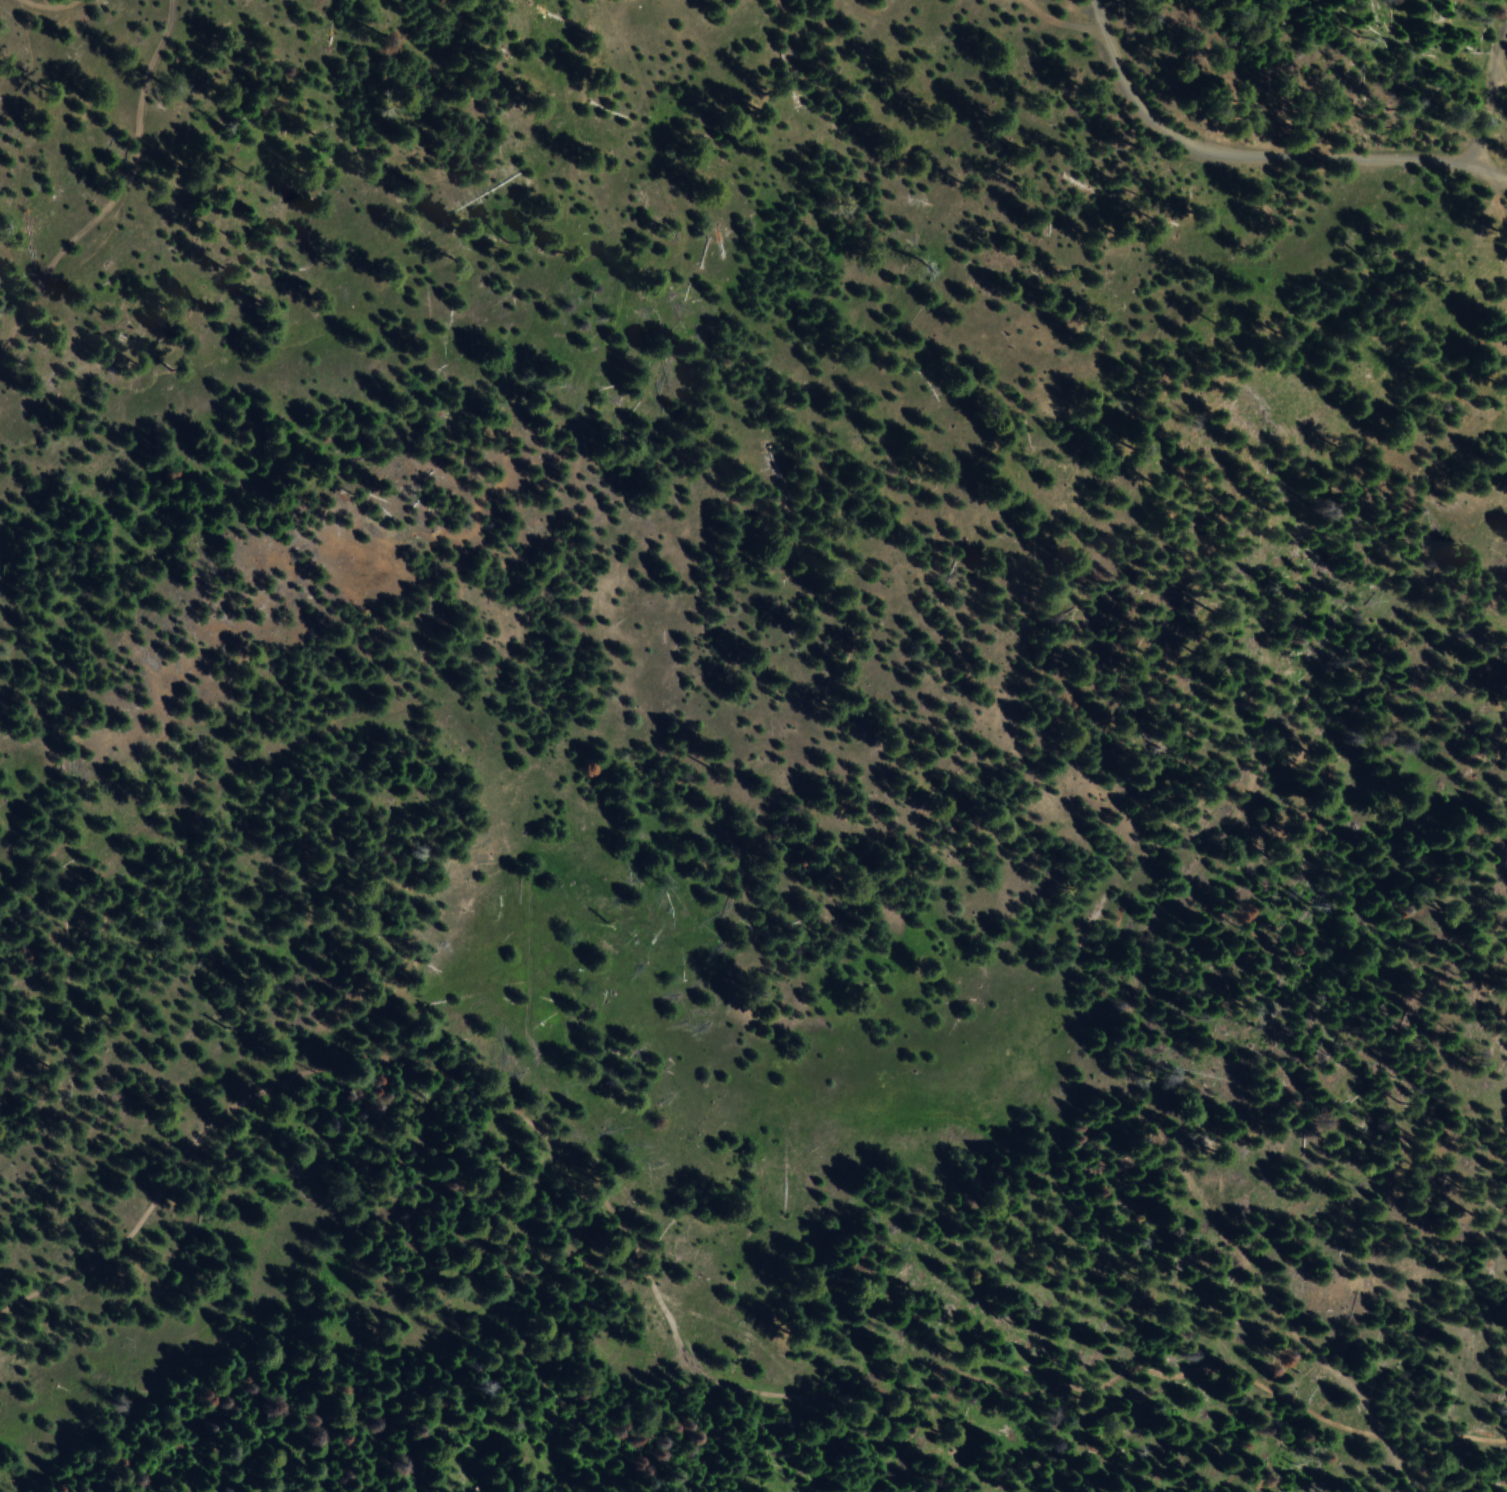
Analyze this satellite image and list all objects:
road: (1499, 76)
road: (1487, 90)
road: (1259, 153)
road: (690, 1313)
road: (1416, 1464)

